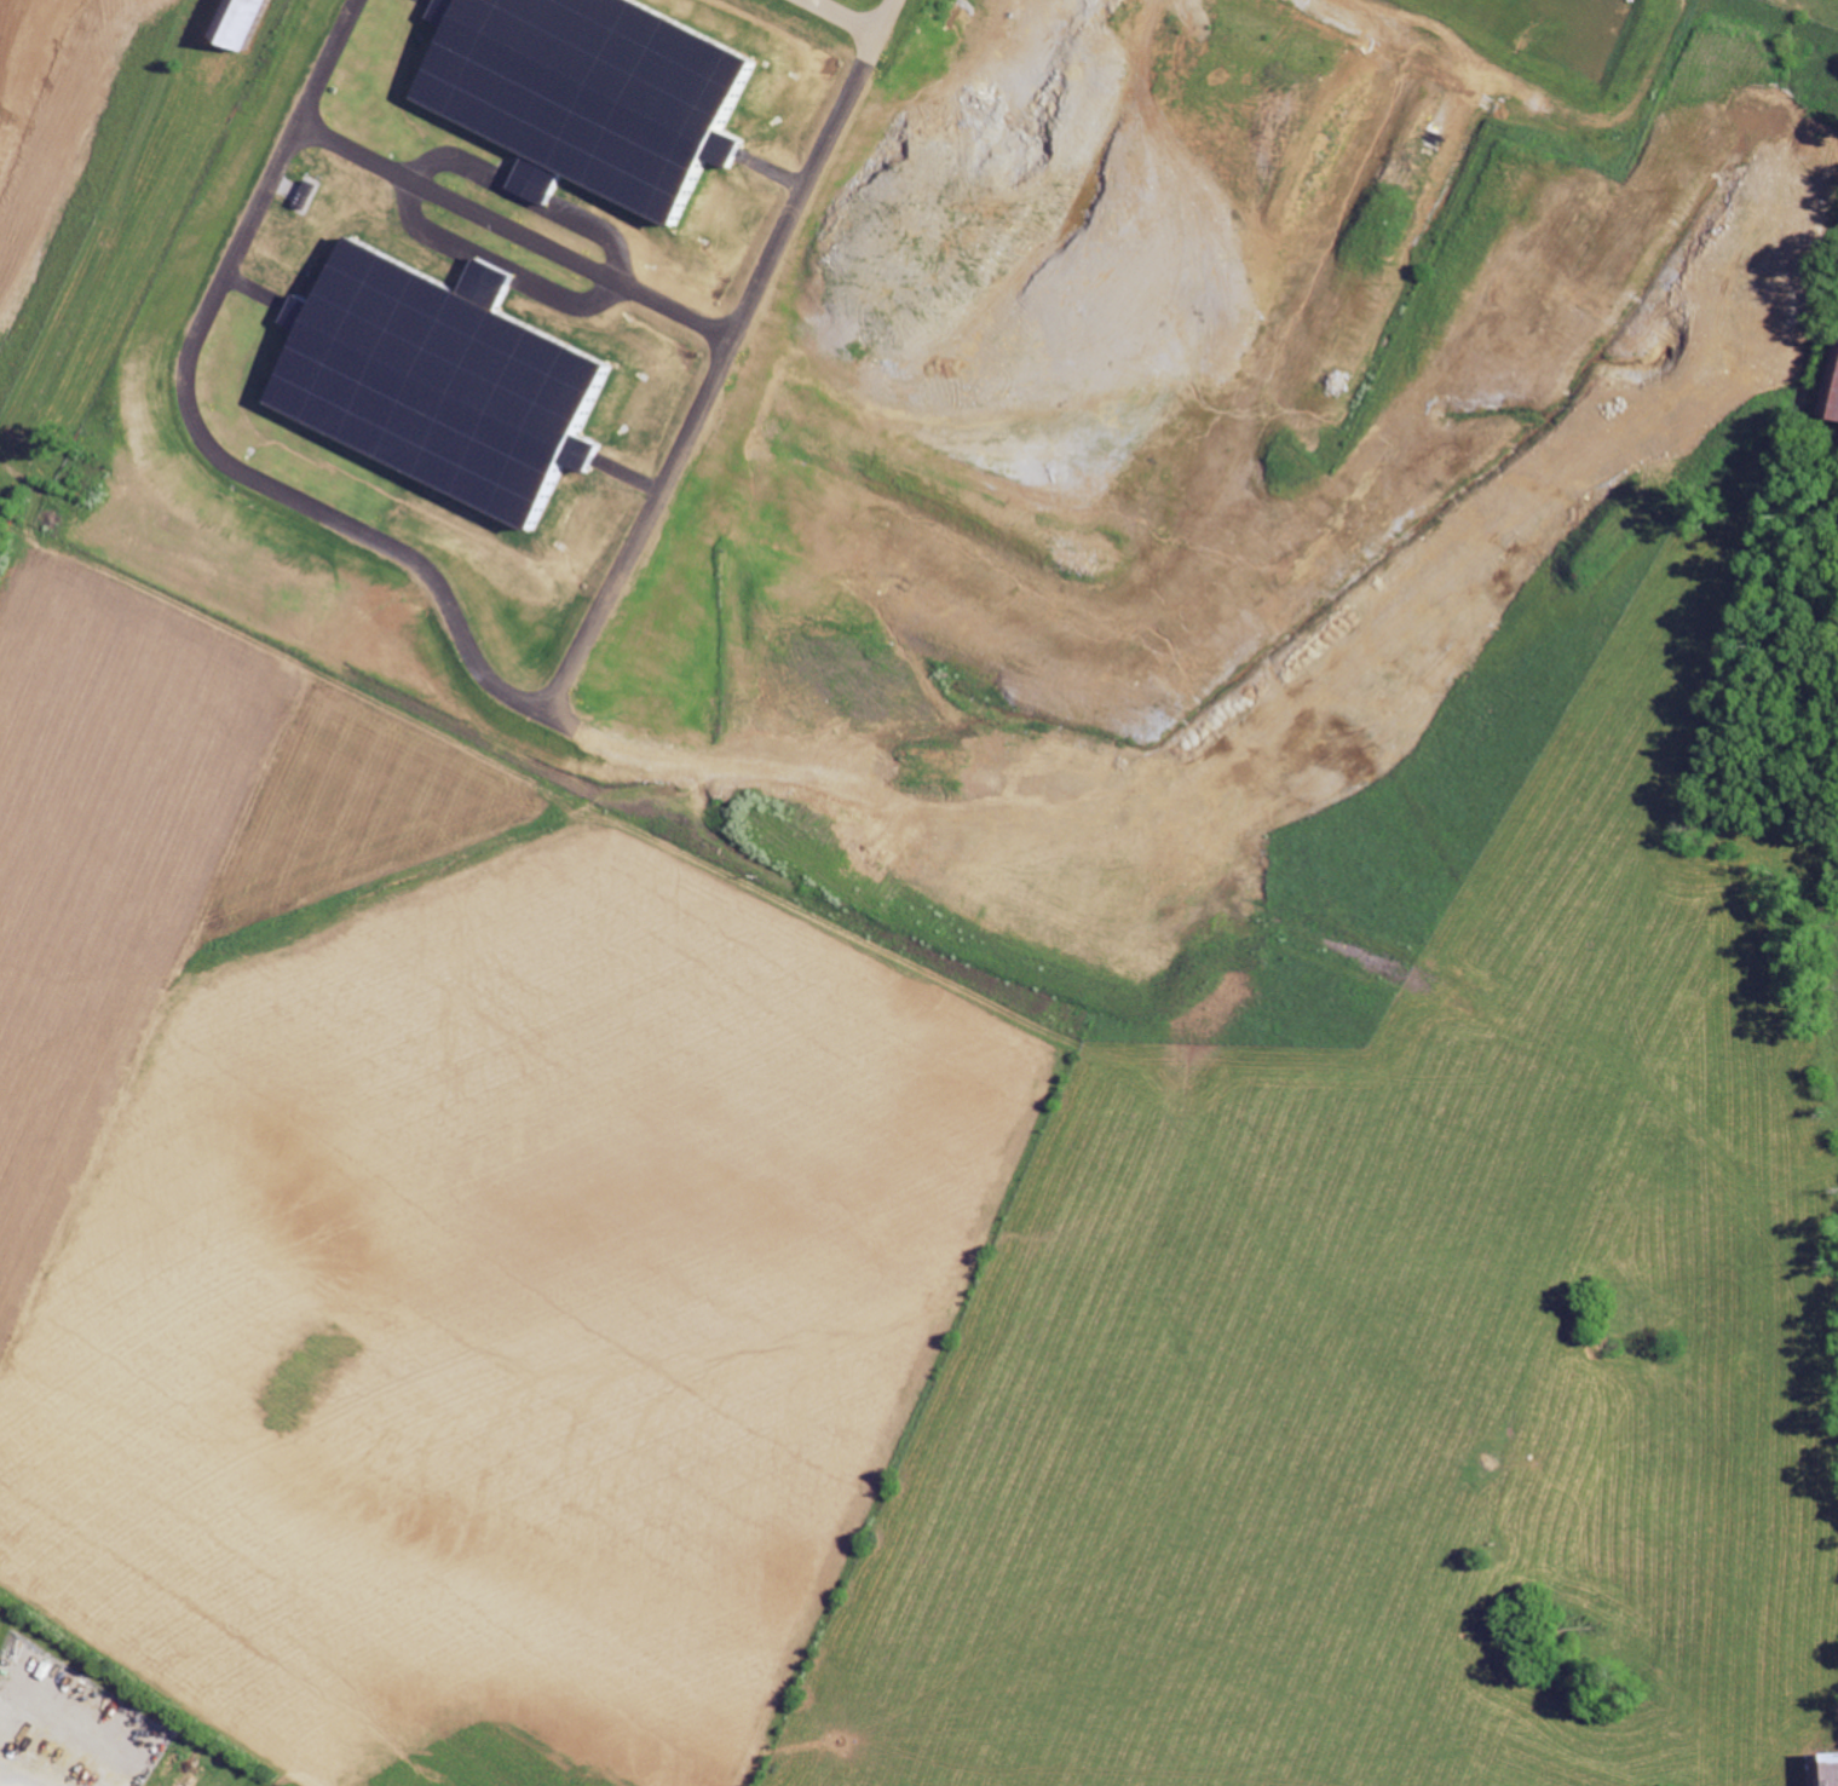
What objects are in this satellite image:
building: (252, 23)
road: (859, 34)
building: (589, 93)
road: (747, 322)
building: (432, 386)
building: (1833, 399)
road: (70, 1719)
building: (1827, 1770)
road: (15, 1776)

